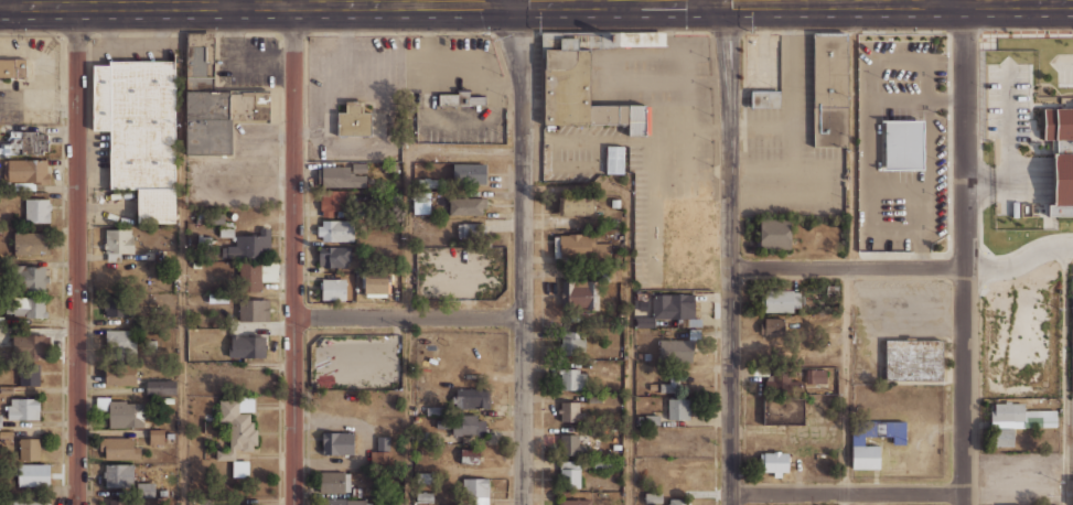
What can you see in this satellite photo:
road: (710, 0)
road: (822, 0)
road: (933, 0)
road: (1051, 0)
road: (233, 1)
road: (502, 1)
road: (586, 1)
road: (607, 1)
traffic signals: (711, 1)
road: (892, 1)
road: (3, 2)
road: (250, 2)
traffic signals: (503, 2)
building: (198, 39)
parking lot: (251, 62)
parking lot: (1064, 67)
building: (13, 69)
road: (320, 79)
building: (587, 79)
building: (829, 89)
building: (459, 98)
building: (764, 98)
road: (379, 100)
parking lot: (1007, 103)
building: (203, 105)
building: (224, 105)
building: (236, 105)
building: (247, 106)
building: (260, 106)
building: (354, 119)
building: (139, 131)
building: (31, 141)
building: (903, 144)
building: (7, 148)
building: (1061, 158)
building: (614, 159)
parking lot: (237, 169)
building: (24, 170)
building: (470, 173)
building: (341, 176)
building: (428, 182)
building: (3, 184)
building: (24, 185)
building: (331, 203)
building: (421, 203)
building: (576, 205)
building: (466, 206)
building: (37, 209)
building: (213, 217)
building: (470, 229)
building: (226, 232)
building: (336, 232)
building: (774, 233)
building: (119, 239)
building: (31, 243)
building: (248, 245)
building: (580, 246)
road: (729, 251)
road: (294, 253)
road: (522, 253)
road: (850, 253)
road: (964, 253)
road: (77, 254)
road: (180, 254)
building: (335, 256)
road: (1019, 262)
building: (195, 264)
road: (408, 269)
road: (847, 269)
building: (249, 276)
building: (375, 283)
building: (25, 287)
building: (334, 288)
building: (581, 294)
road: (627, 294)
building: (219, 297)
building: (779, 301)
building: (117, 307)
parking lot: (902, 307)
building: (667, 308)
building: (255, 310)
building: (1072, 313)
road: (408, 318)
building: (1, 321)
building: (771, 326)
building: (119, 342)
building: (571, 344)
building: (31, 346)
building: (248, 346)
building: (675, 348)
building: (913, 359)
building: (121, 372)
building: (29, 375)
road: (1065, 375)
building: (816, 376)
building: (573, 378)
building: (779, 382)
building: (669, 384)
building: (160, 387)
building: (472, 398)
building: (22, 407)
building: (572, 409)
building: (679, 409)
building: (434, 410)
building: (783, 411)
building: (126, 413)
building: (1022, 415)
building: (0, 420)
building: (653, 420)
building: (442, 423)
building: (468, 426)
building: (236, 429)
building: (667, 431)
building: (158, 437)
building: (1001, 437)
building: (339, 442)
building: (384, 443)
building: (569, 444)
building: (857, 444)
building: (119, 447)
building: (29, 449)
building: (470, 456)
building: (383, 459)
building: (773, 462)
building: (240, 469)
building: (34, 474)
building: (570, 474)
building: (119, 475)
building: (426, 477)
building: (331, 481)
building: (475, 487)
building: (146, 488)
building: (1072, 492)
road: (848, 495)
building: (425, 496)
building: (653, 497)
building: (29, 501)
building: (333, 501)
building: (677, 501)
building: (120, 502)
building: (205, 502)
building: (355, 502)
building: (575, 502)
building: (244, 504)

